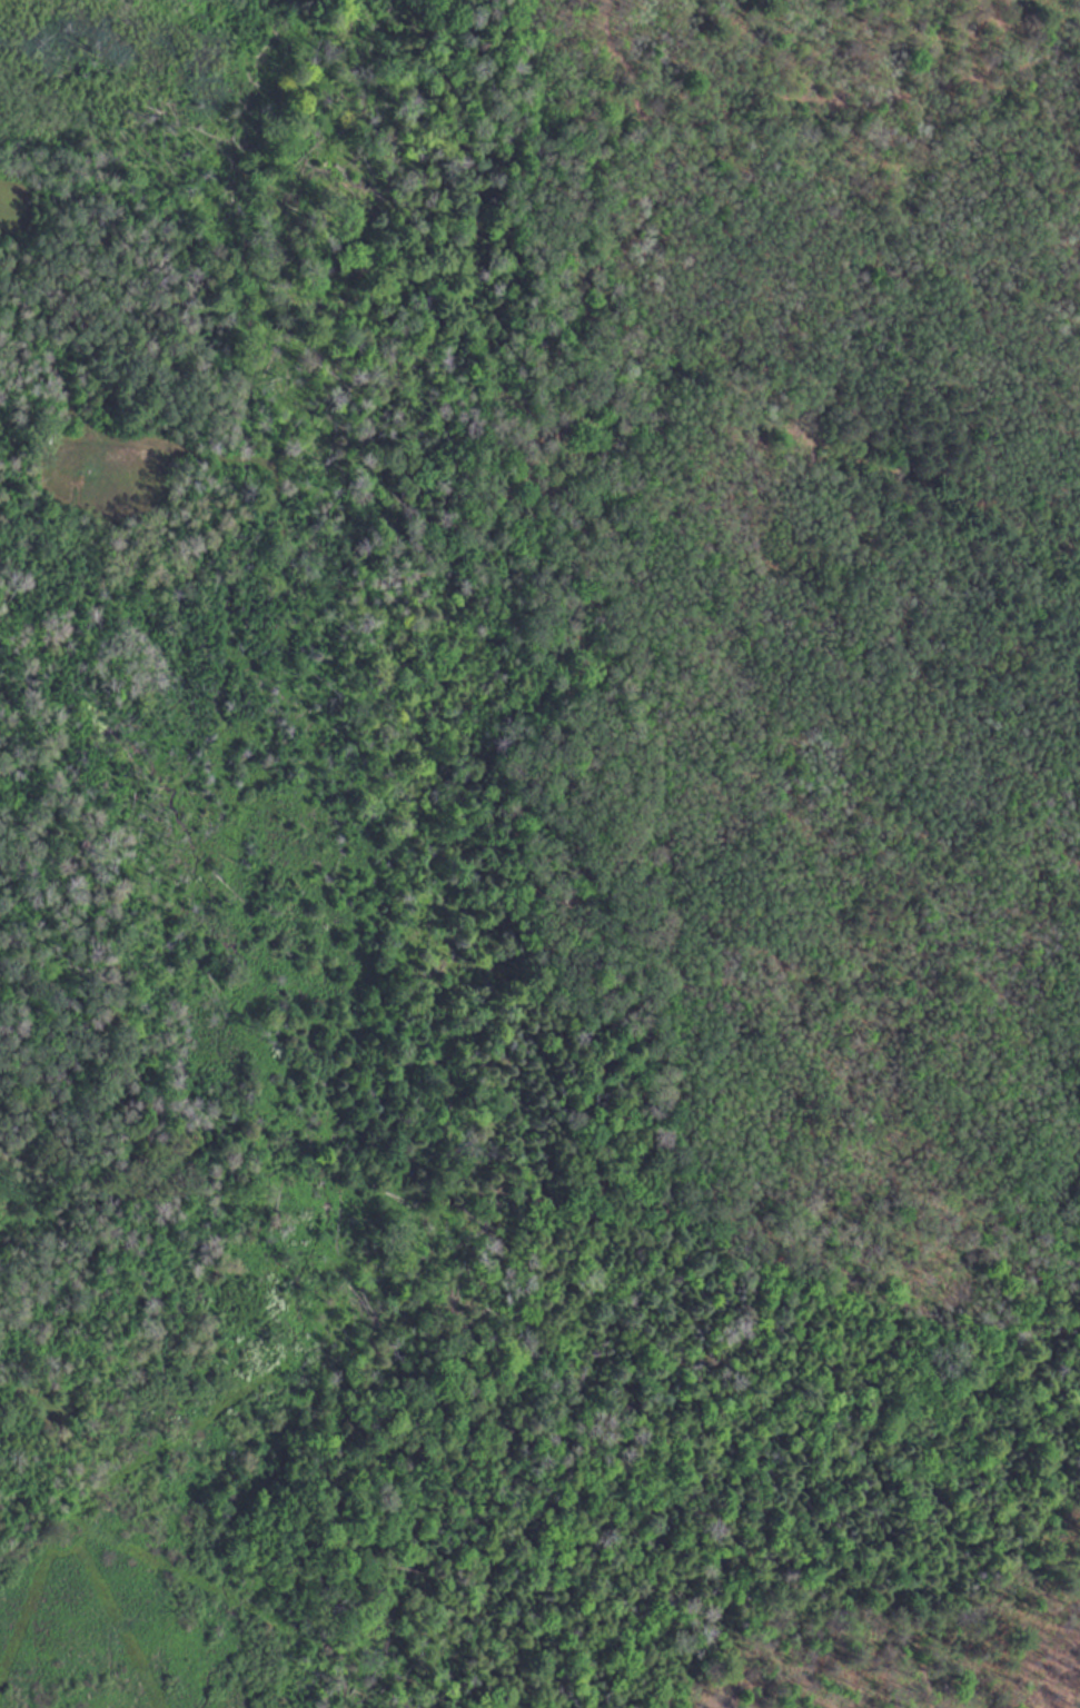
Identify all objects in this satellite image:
road: (1050, 1702)

